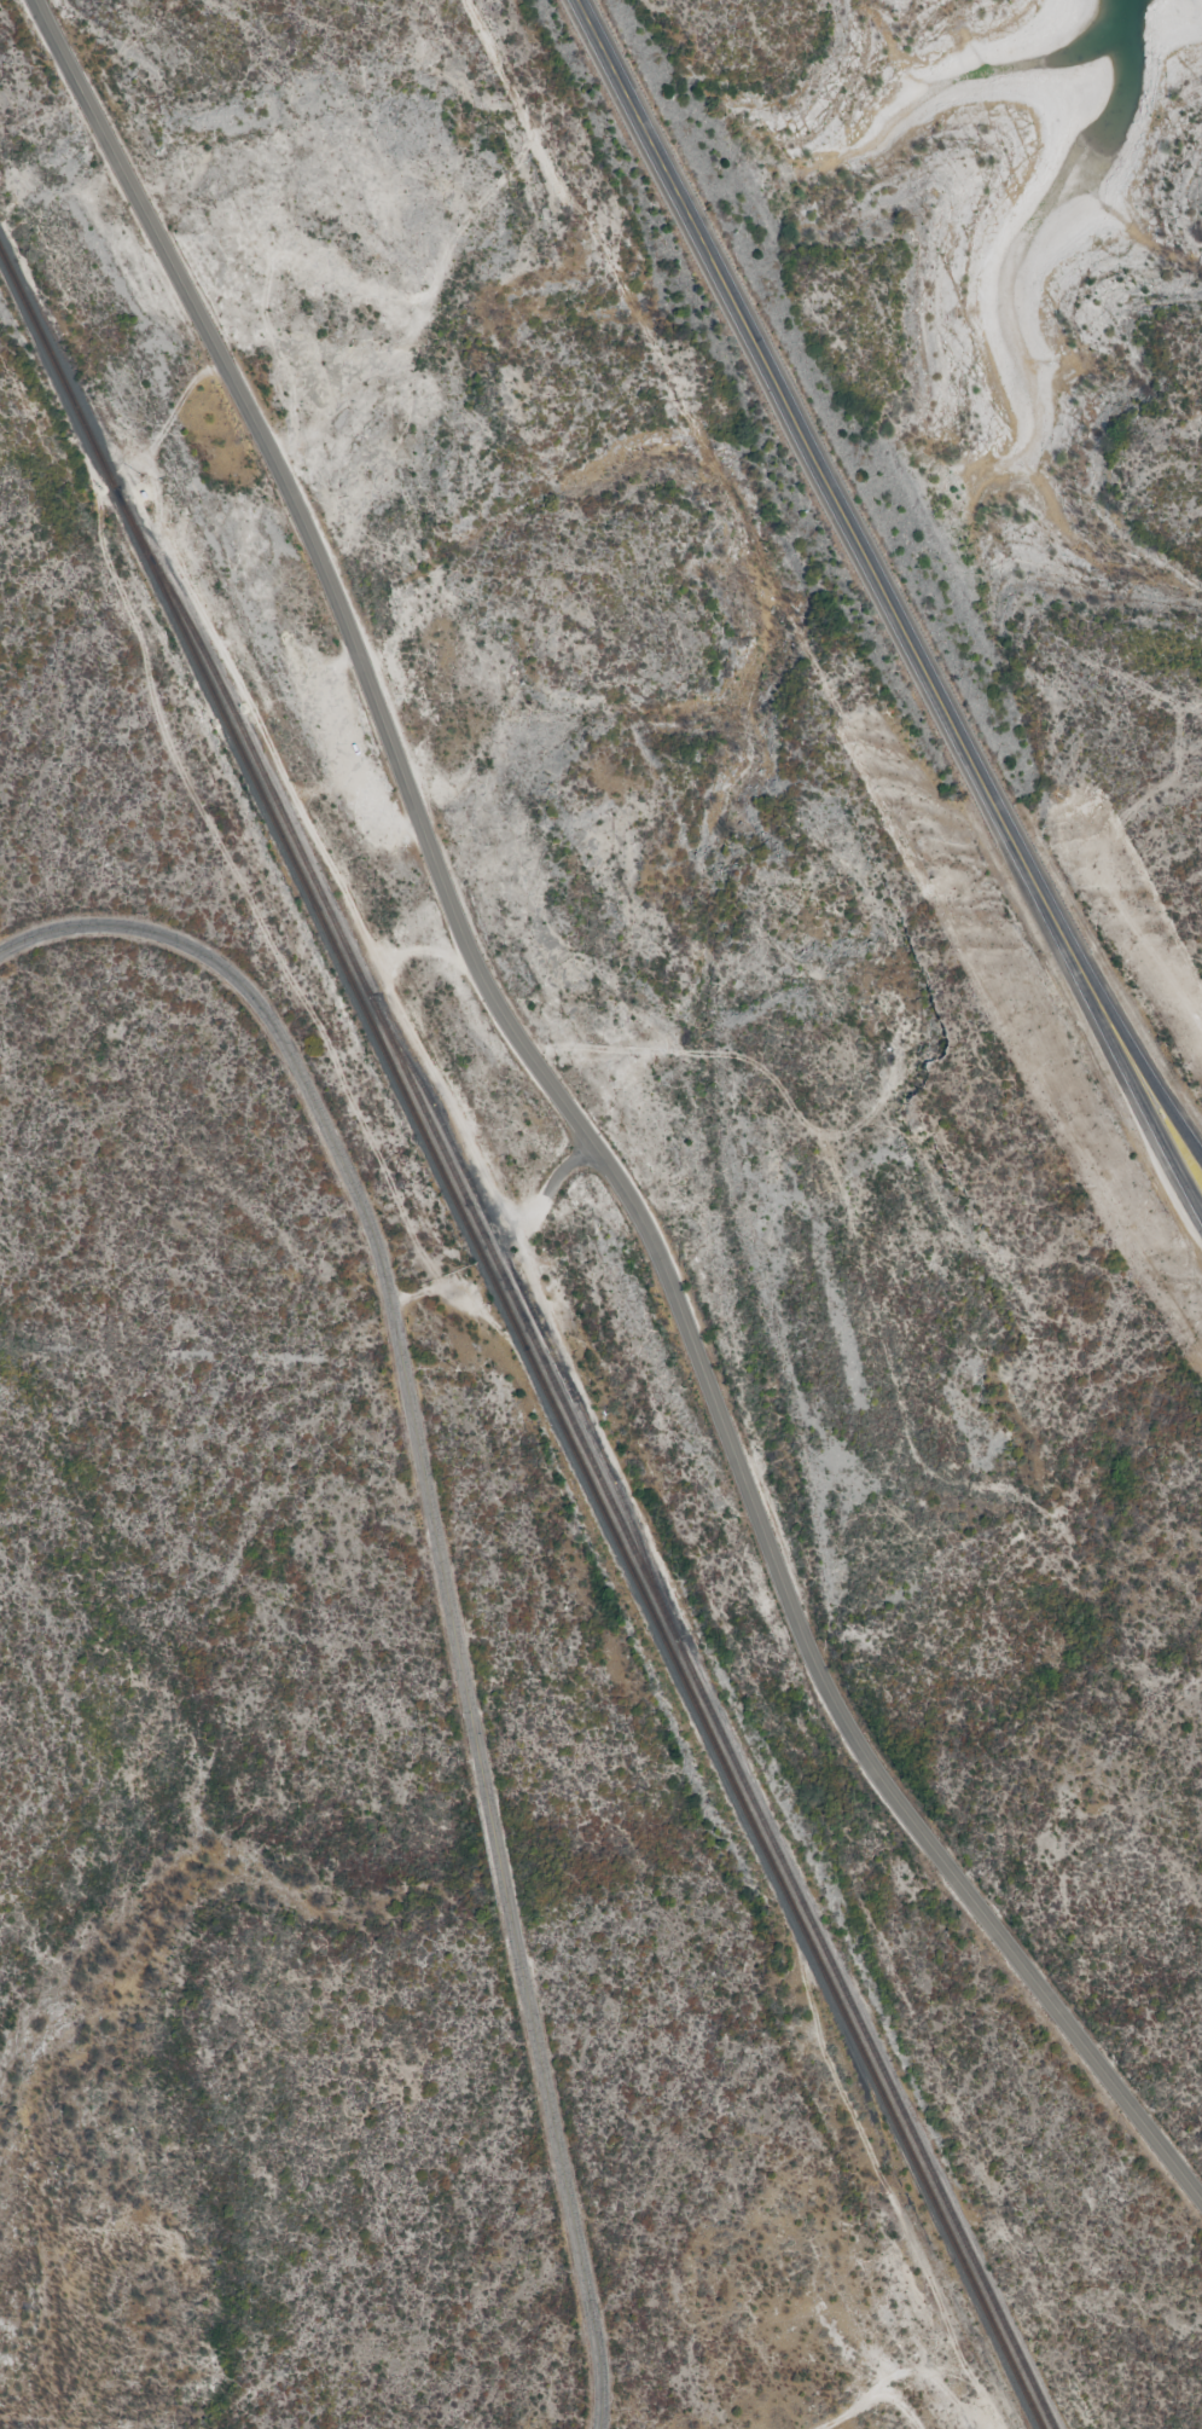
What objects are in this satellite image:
road: (849, 527)
road: (1165, 1098)
road: (1163, 1123)
road: (581, 1124)
railway: (521, 1338)
railway: (587, 1454)
road: (442, 1561)

